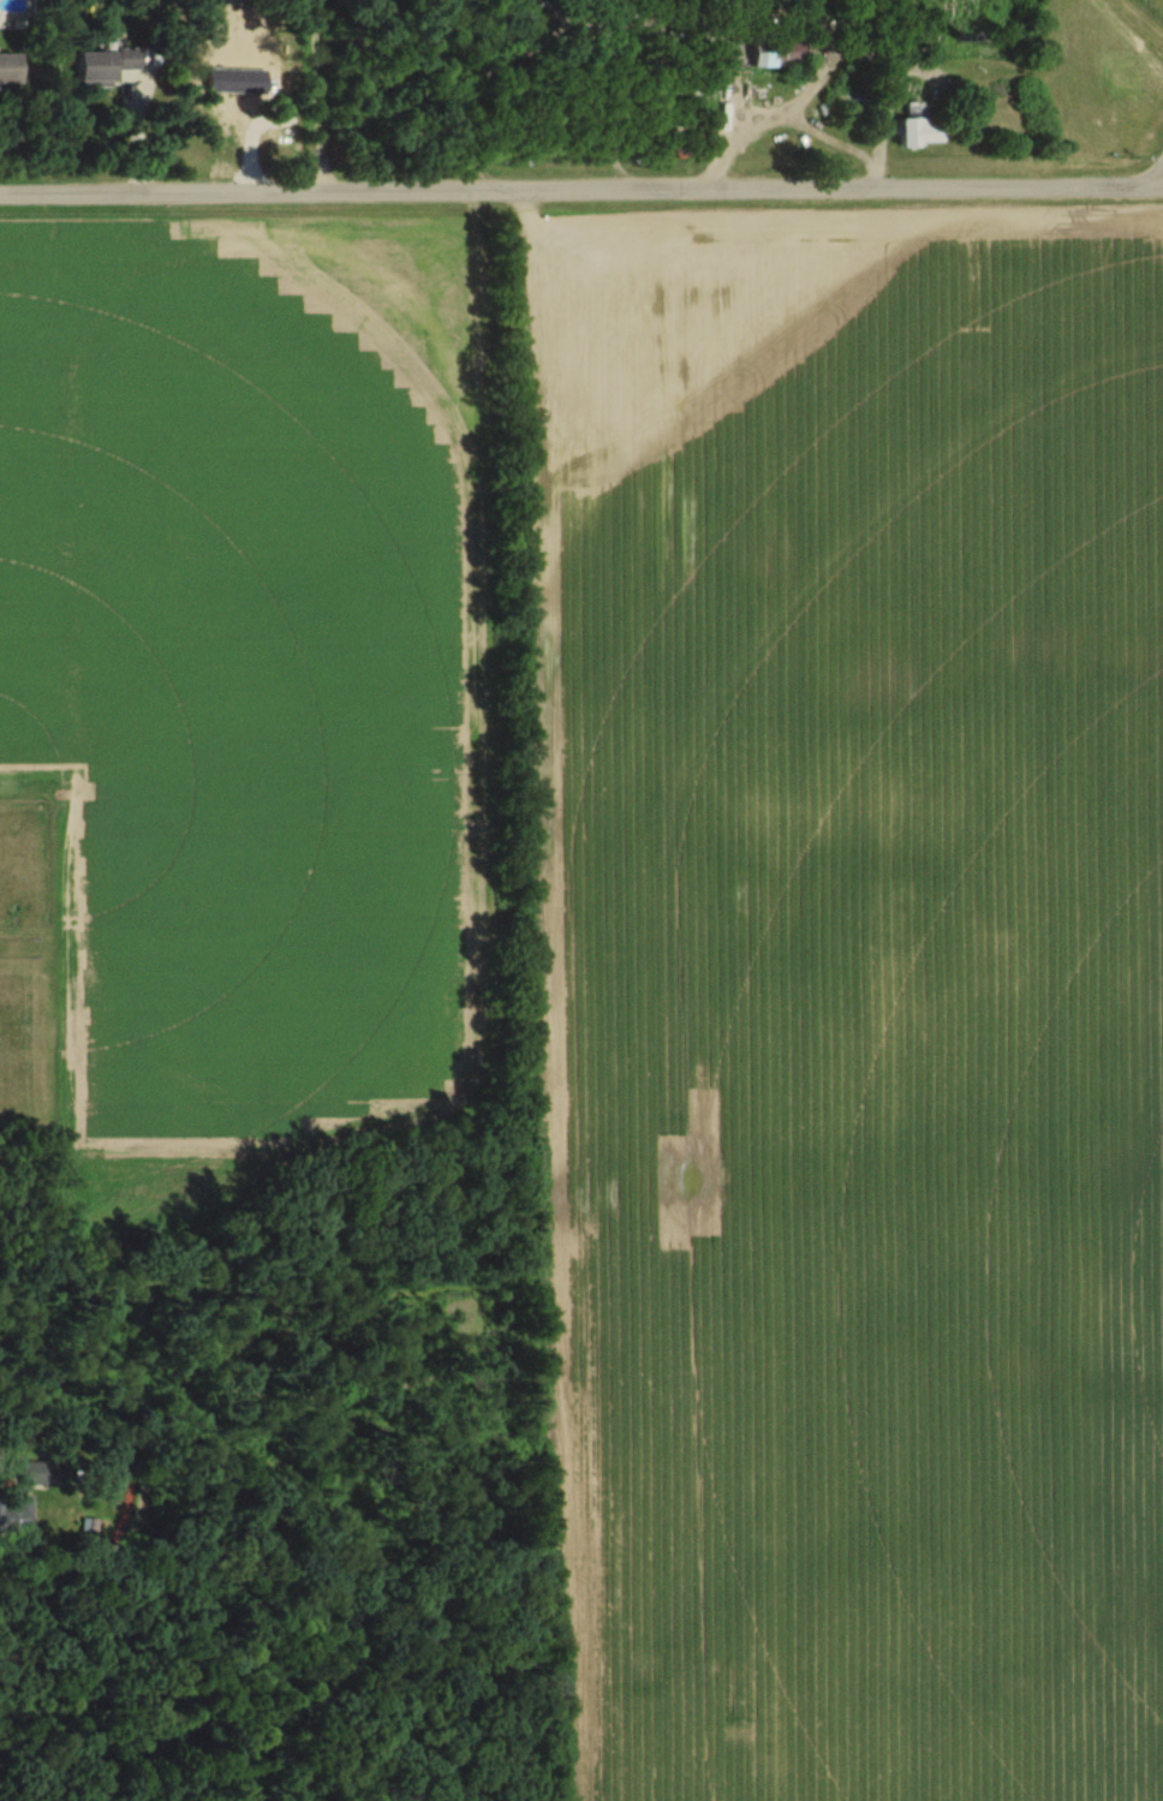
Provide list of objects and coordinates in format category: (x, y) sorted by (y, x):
building: (967, 14)
building: (780, 53)
building: (106, 67)
building: (12, 70)
building: (919, 130)
road: (581, 192)
building: (42, 1474)
building: (1, 1515)

